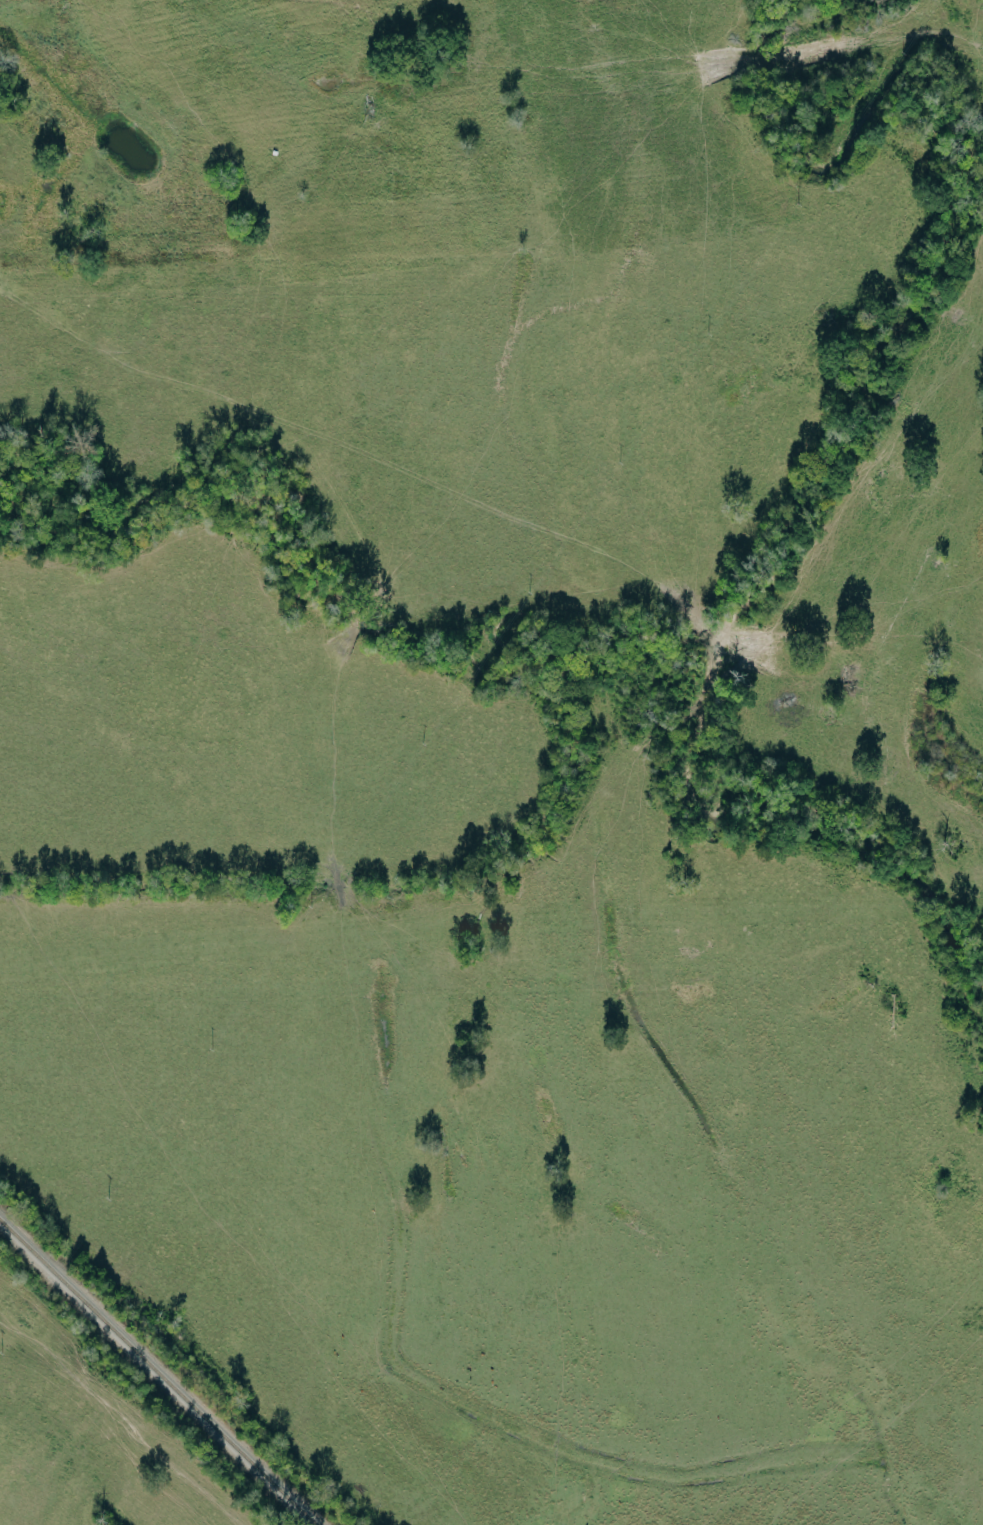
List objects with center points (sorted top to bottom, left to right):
railway: (158, 1372)

